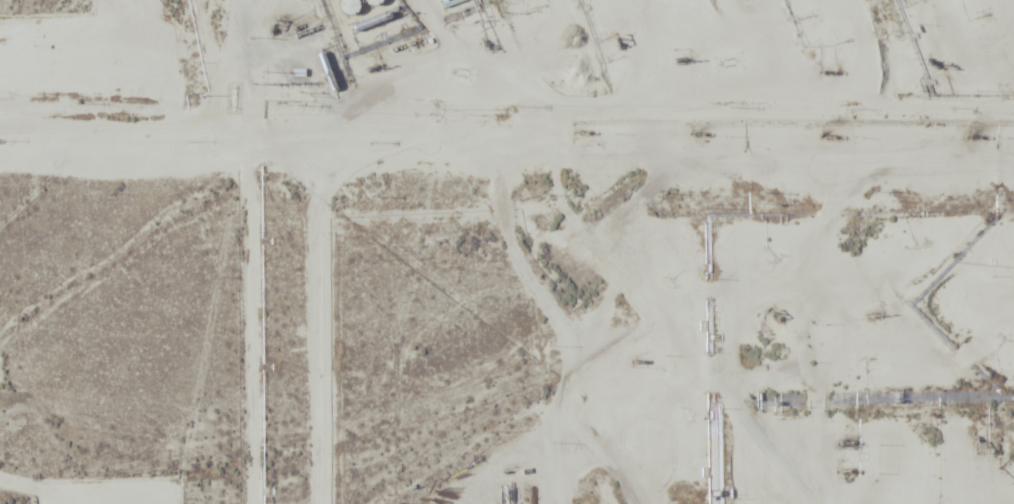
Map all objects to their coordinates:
road: (252, 248)
road: (614, 248)

